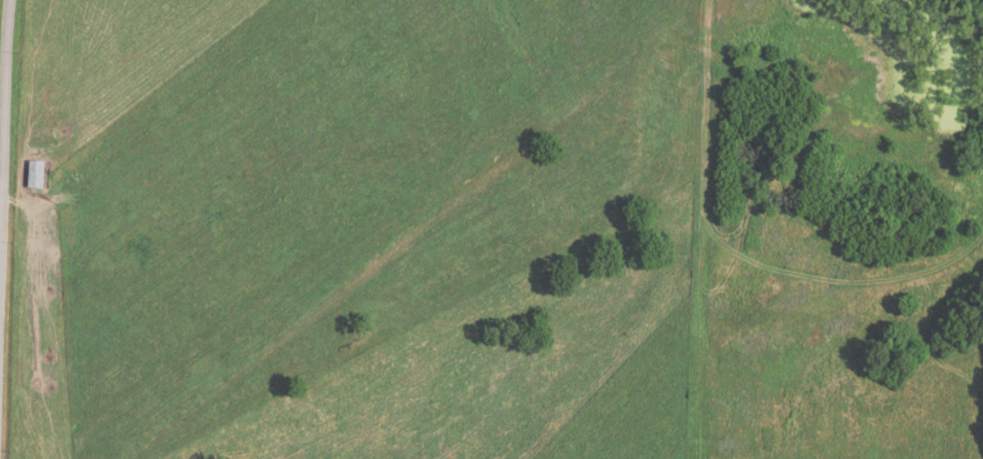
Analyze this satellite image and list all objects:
building: (30, 177)
road: (1, 180)
road: (3, 196)

